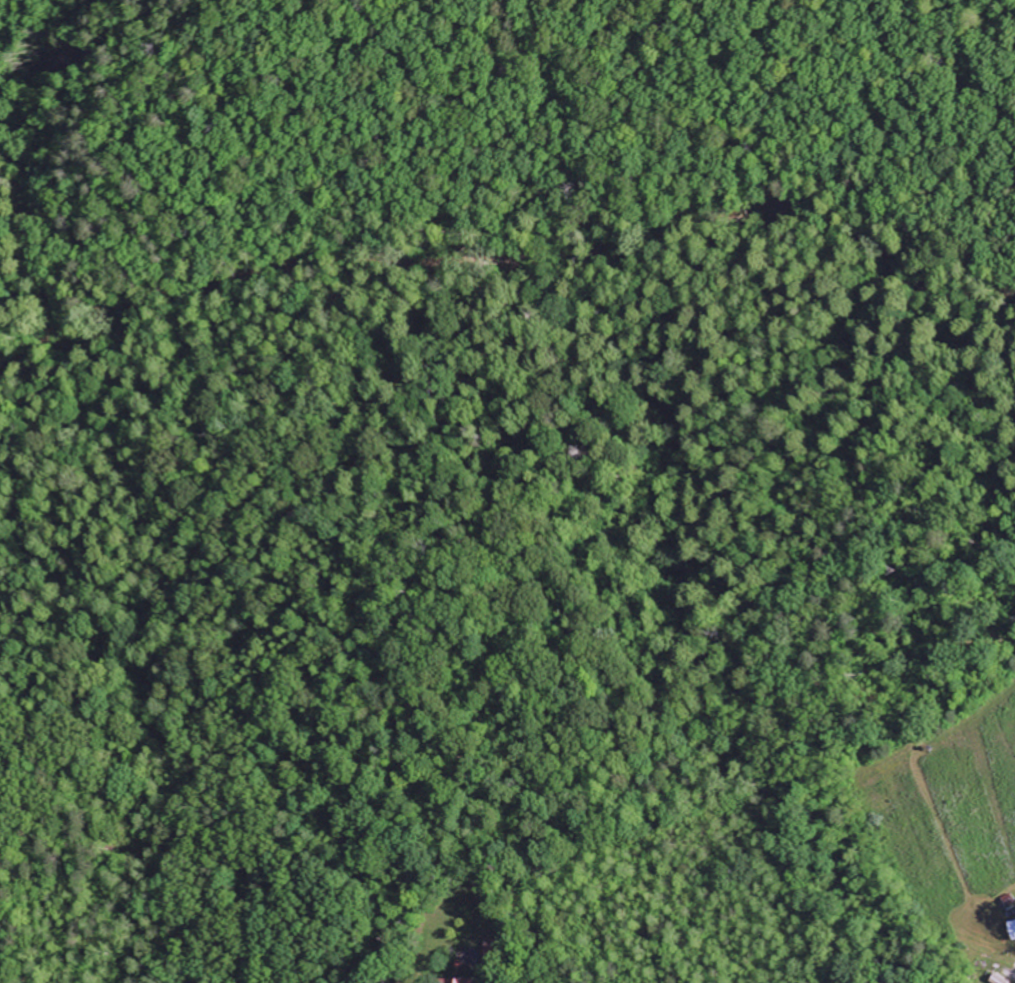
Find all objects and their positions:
building: (453, 981)

